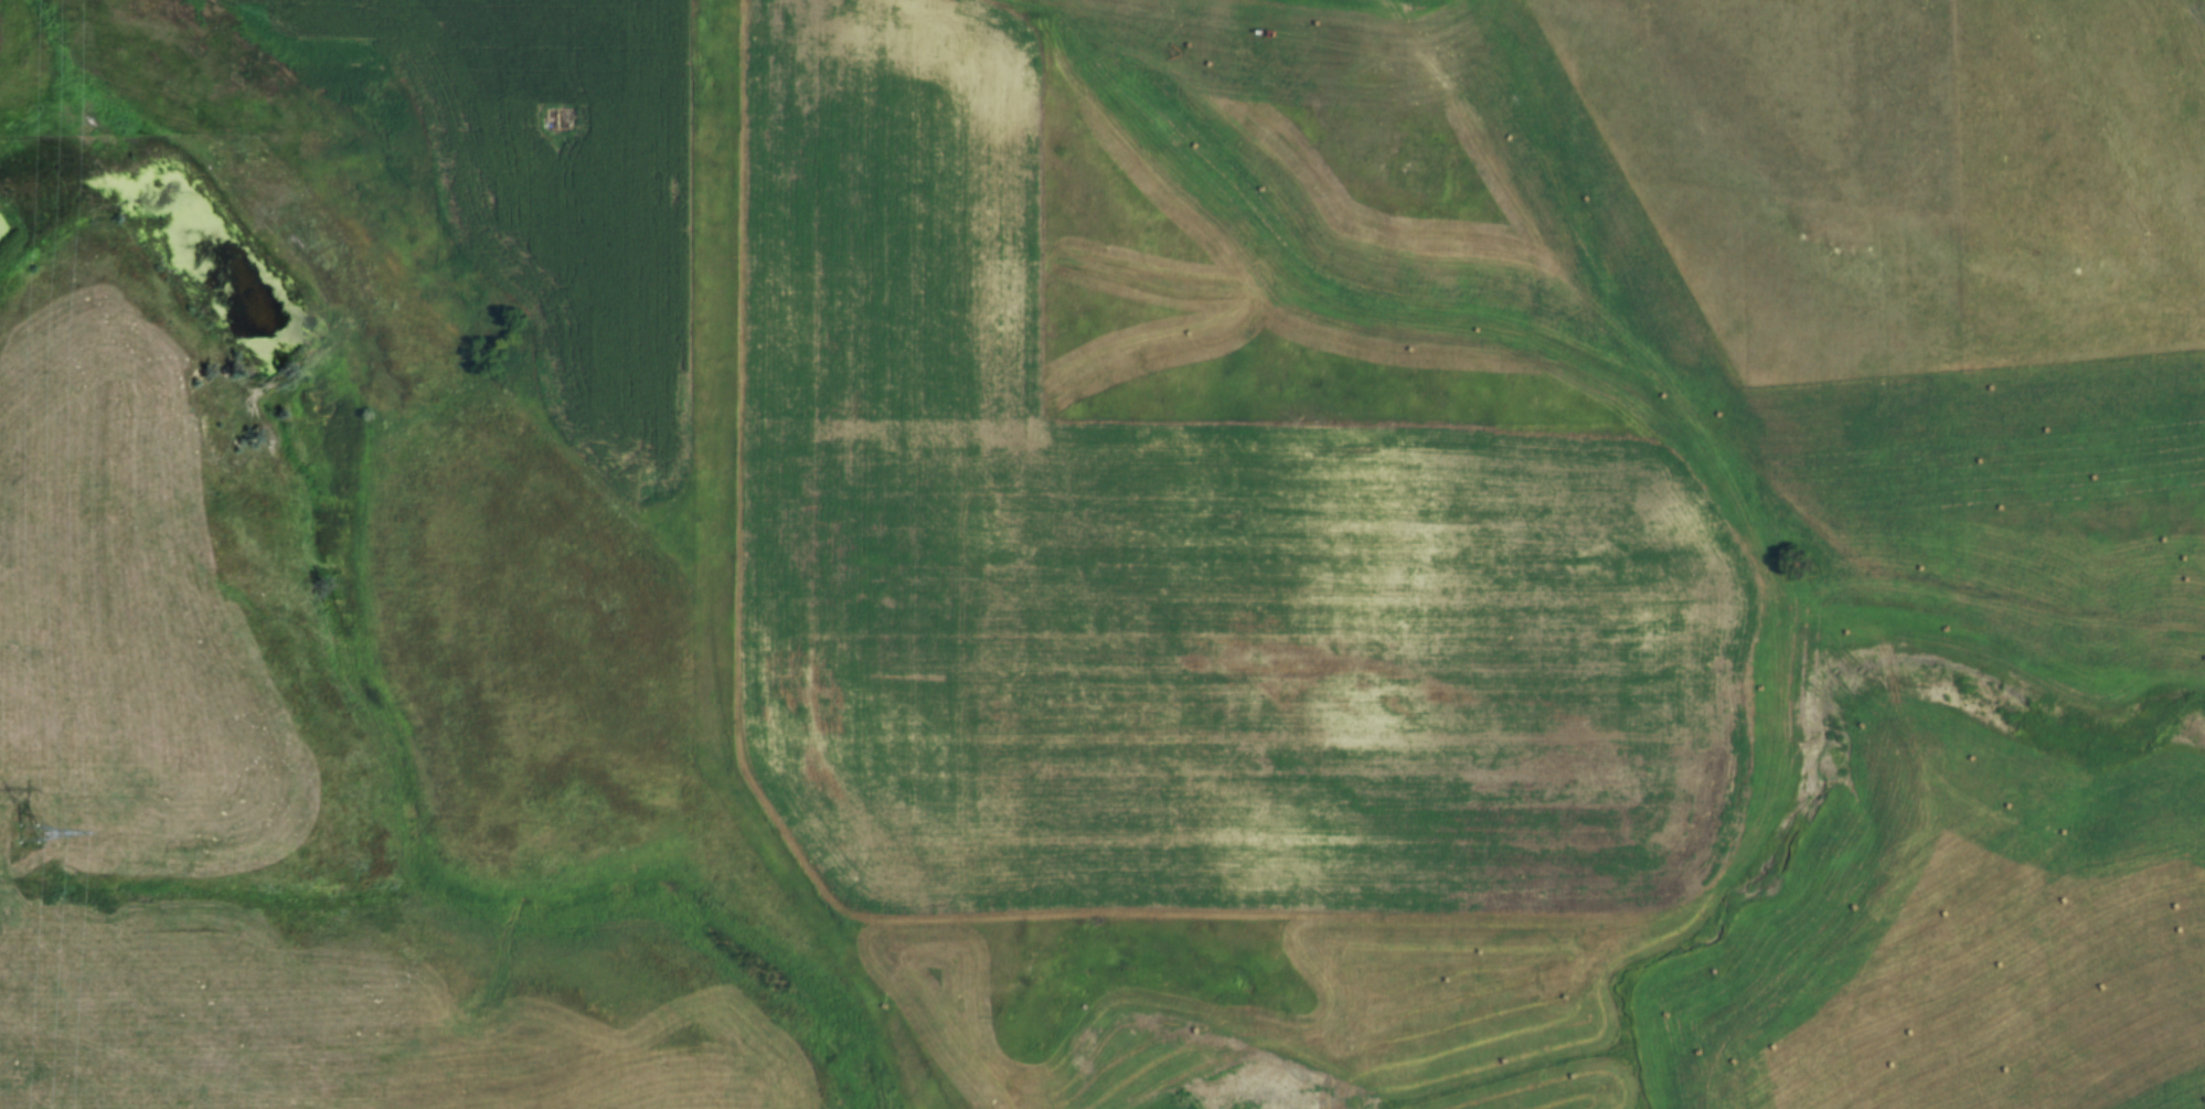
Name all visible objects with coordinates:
power tower: (22, 836)

